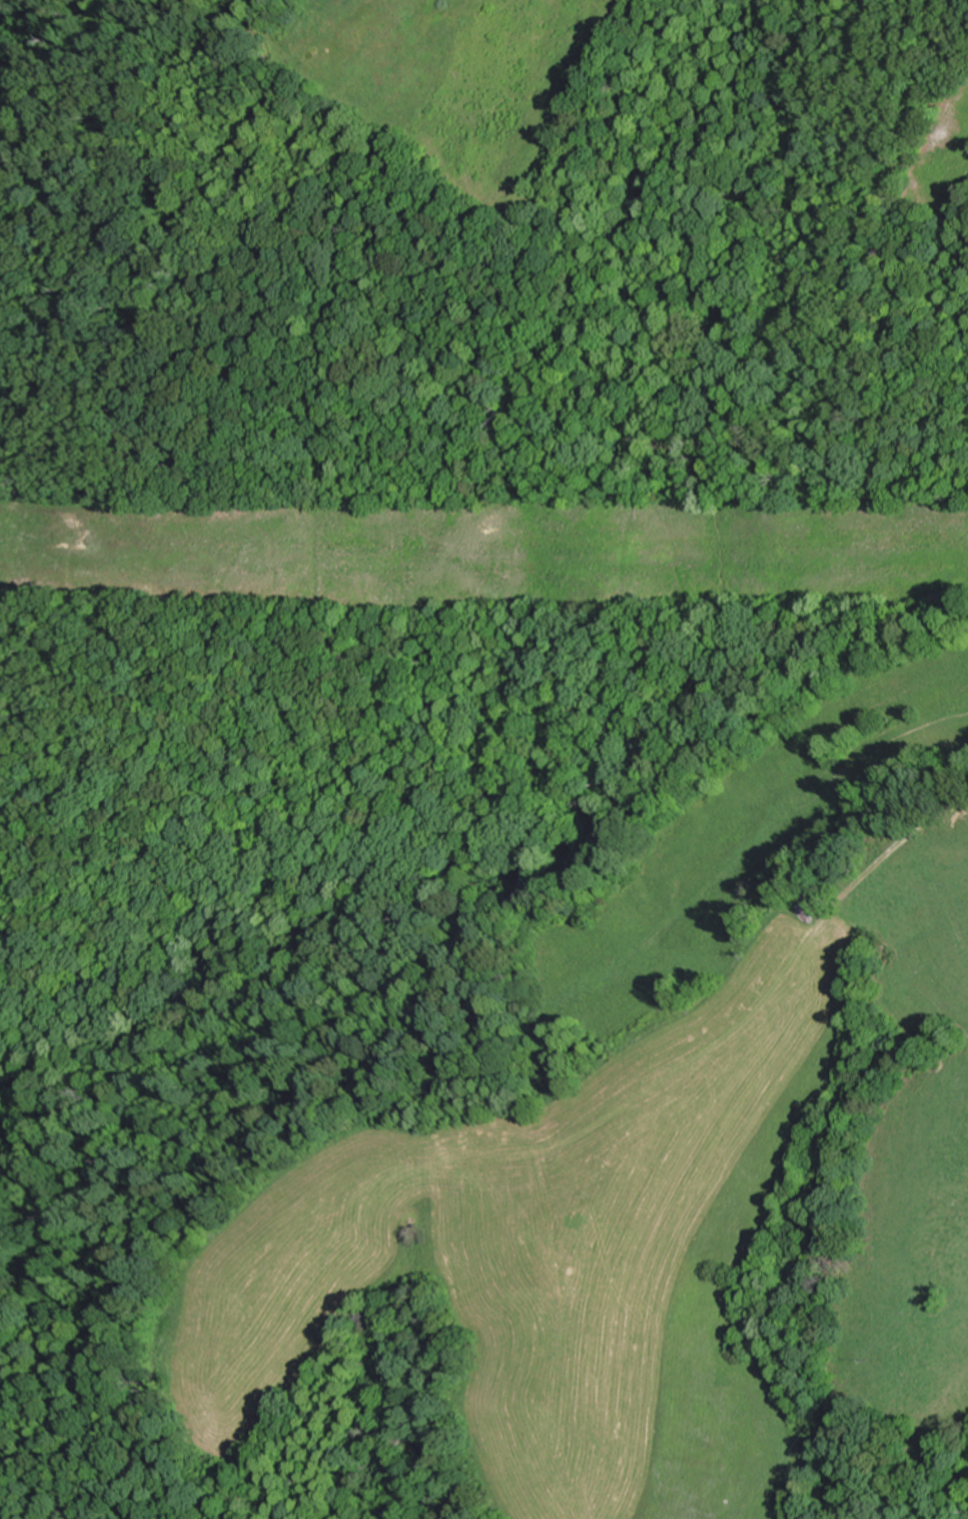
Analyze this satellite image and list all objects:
building: (818, 900)

